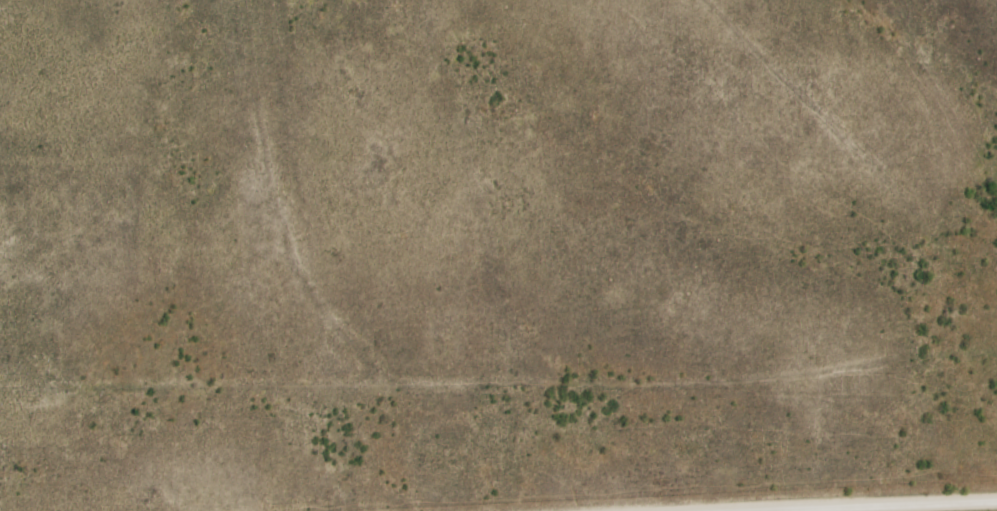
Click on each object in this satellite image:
road: (862, 505)

